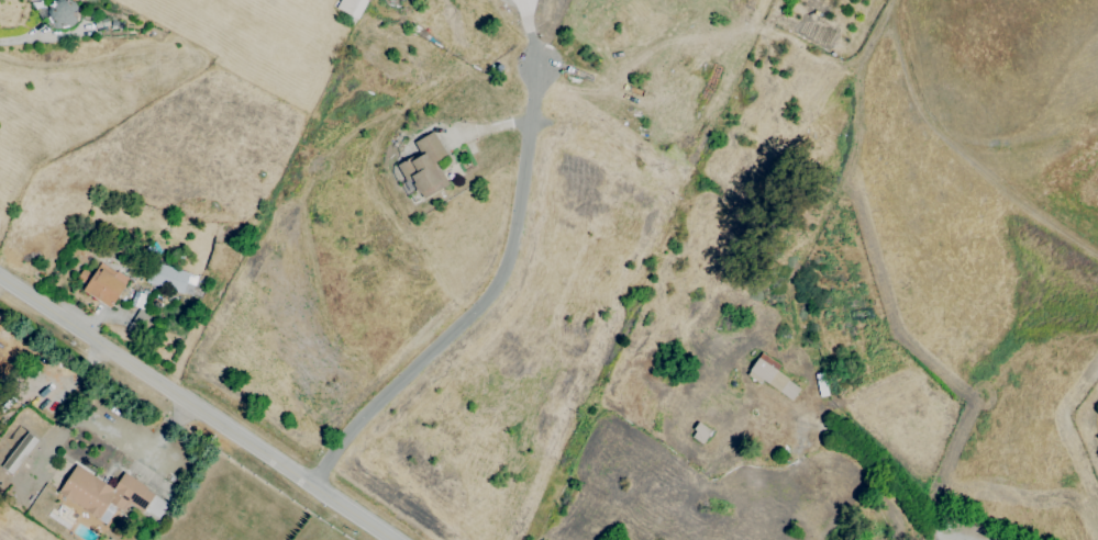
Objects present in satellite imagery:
building: (351, 7)
road: (23, 37)
building: (423, 167)
building: (169, 279)
building: (104, 284)
road: (483, 305)
building: (140, 319)
building: (772, 375)
road: (196, 407)
building: (699, 432)
building: (18, 452)
building: (104, 492)

